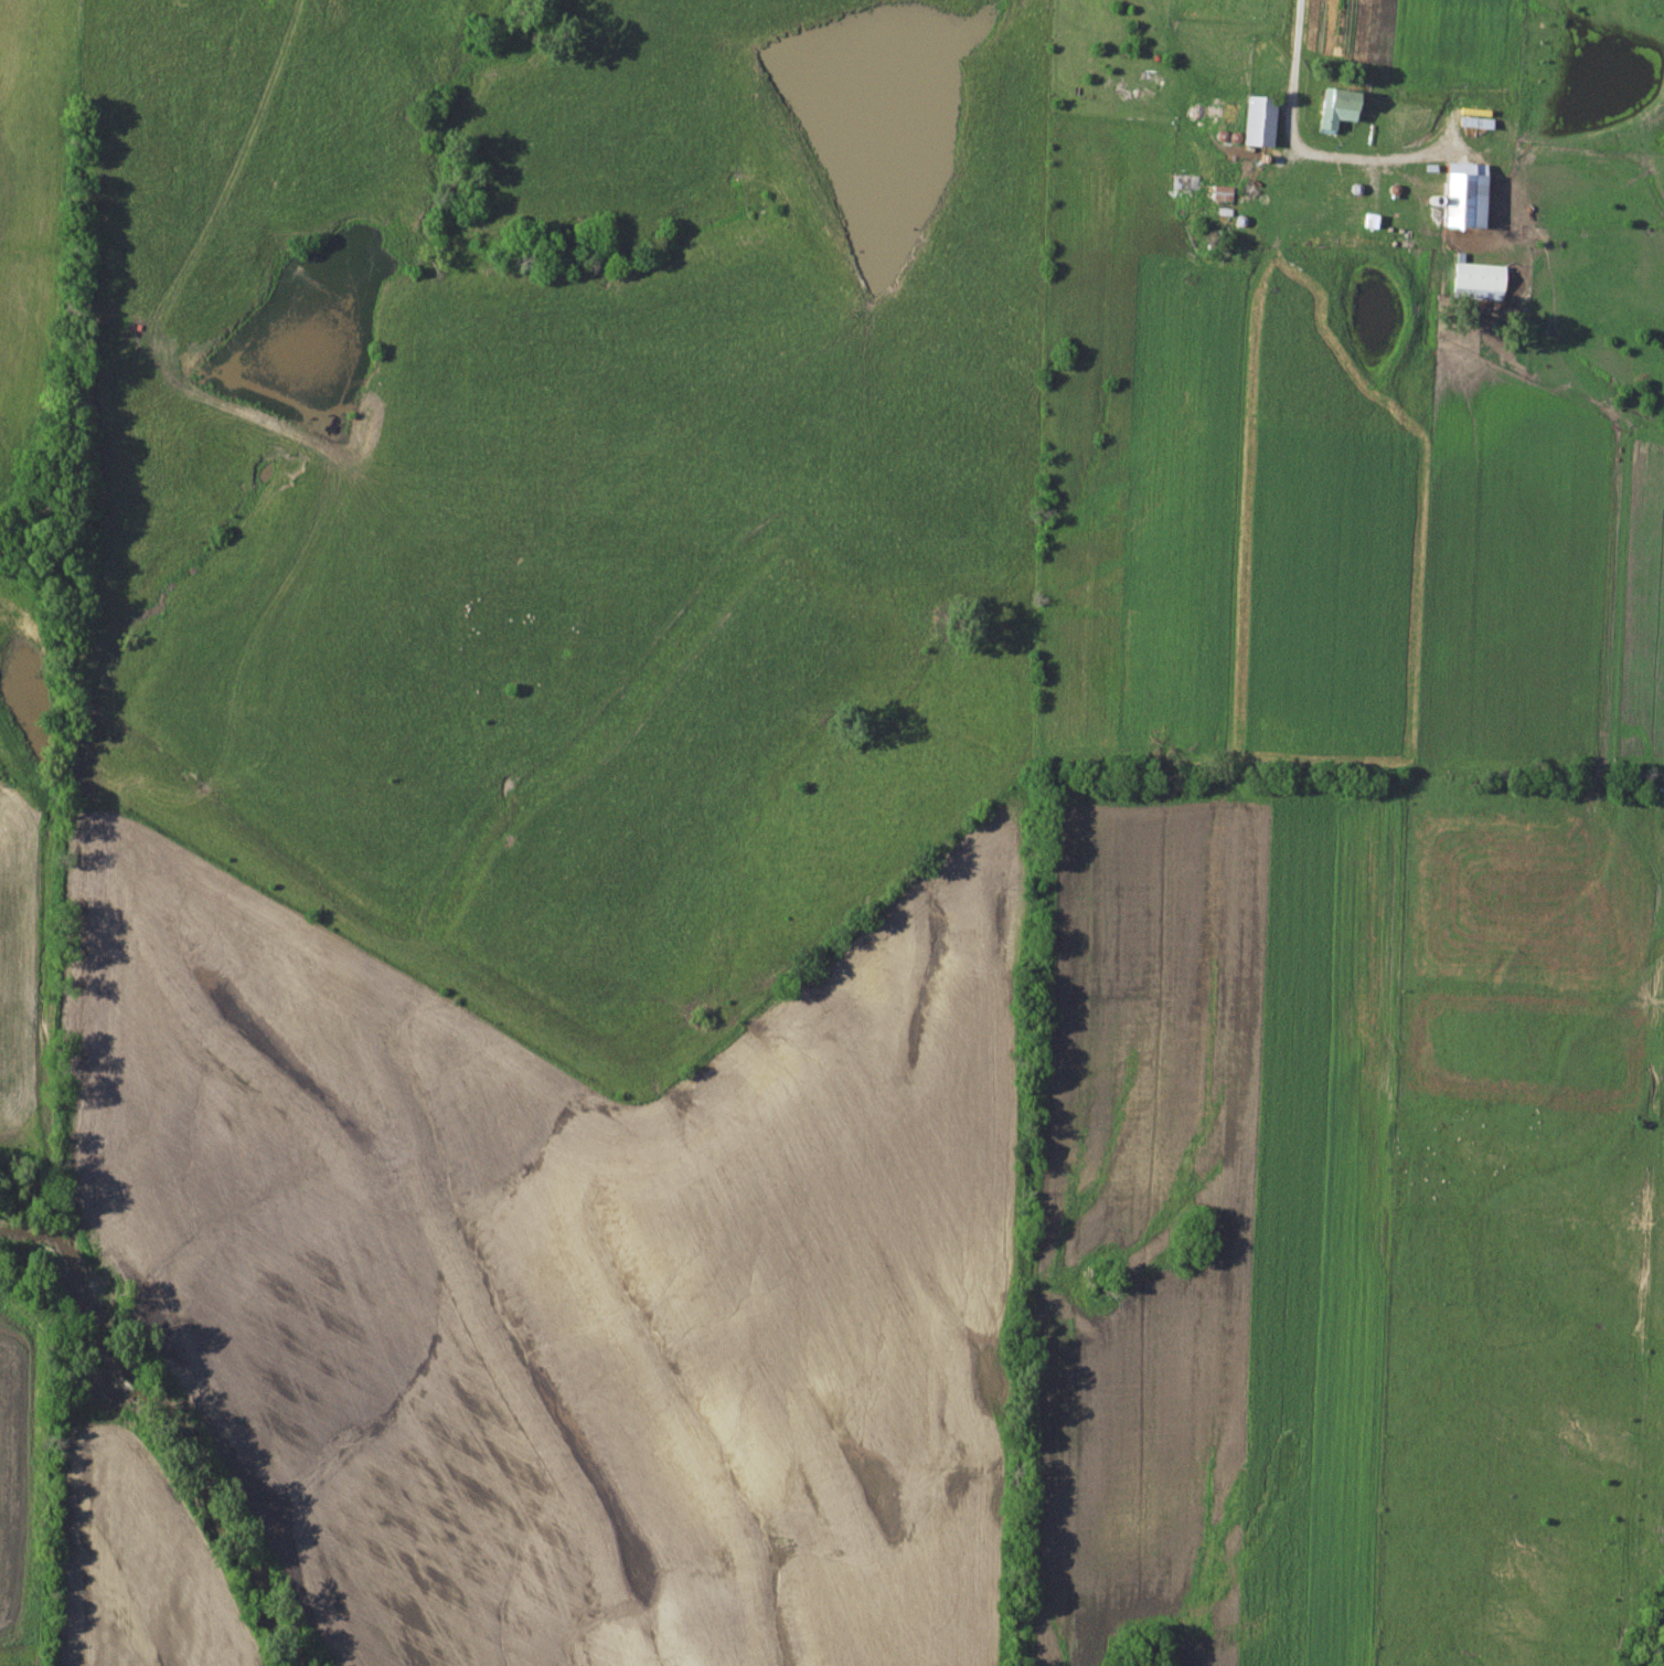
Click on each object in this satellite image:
building: (1347, 97)
building: (1260, 120)
building: (1222, 193)
building: (1469, 194)

